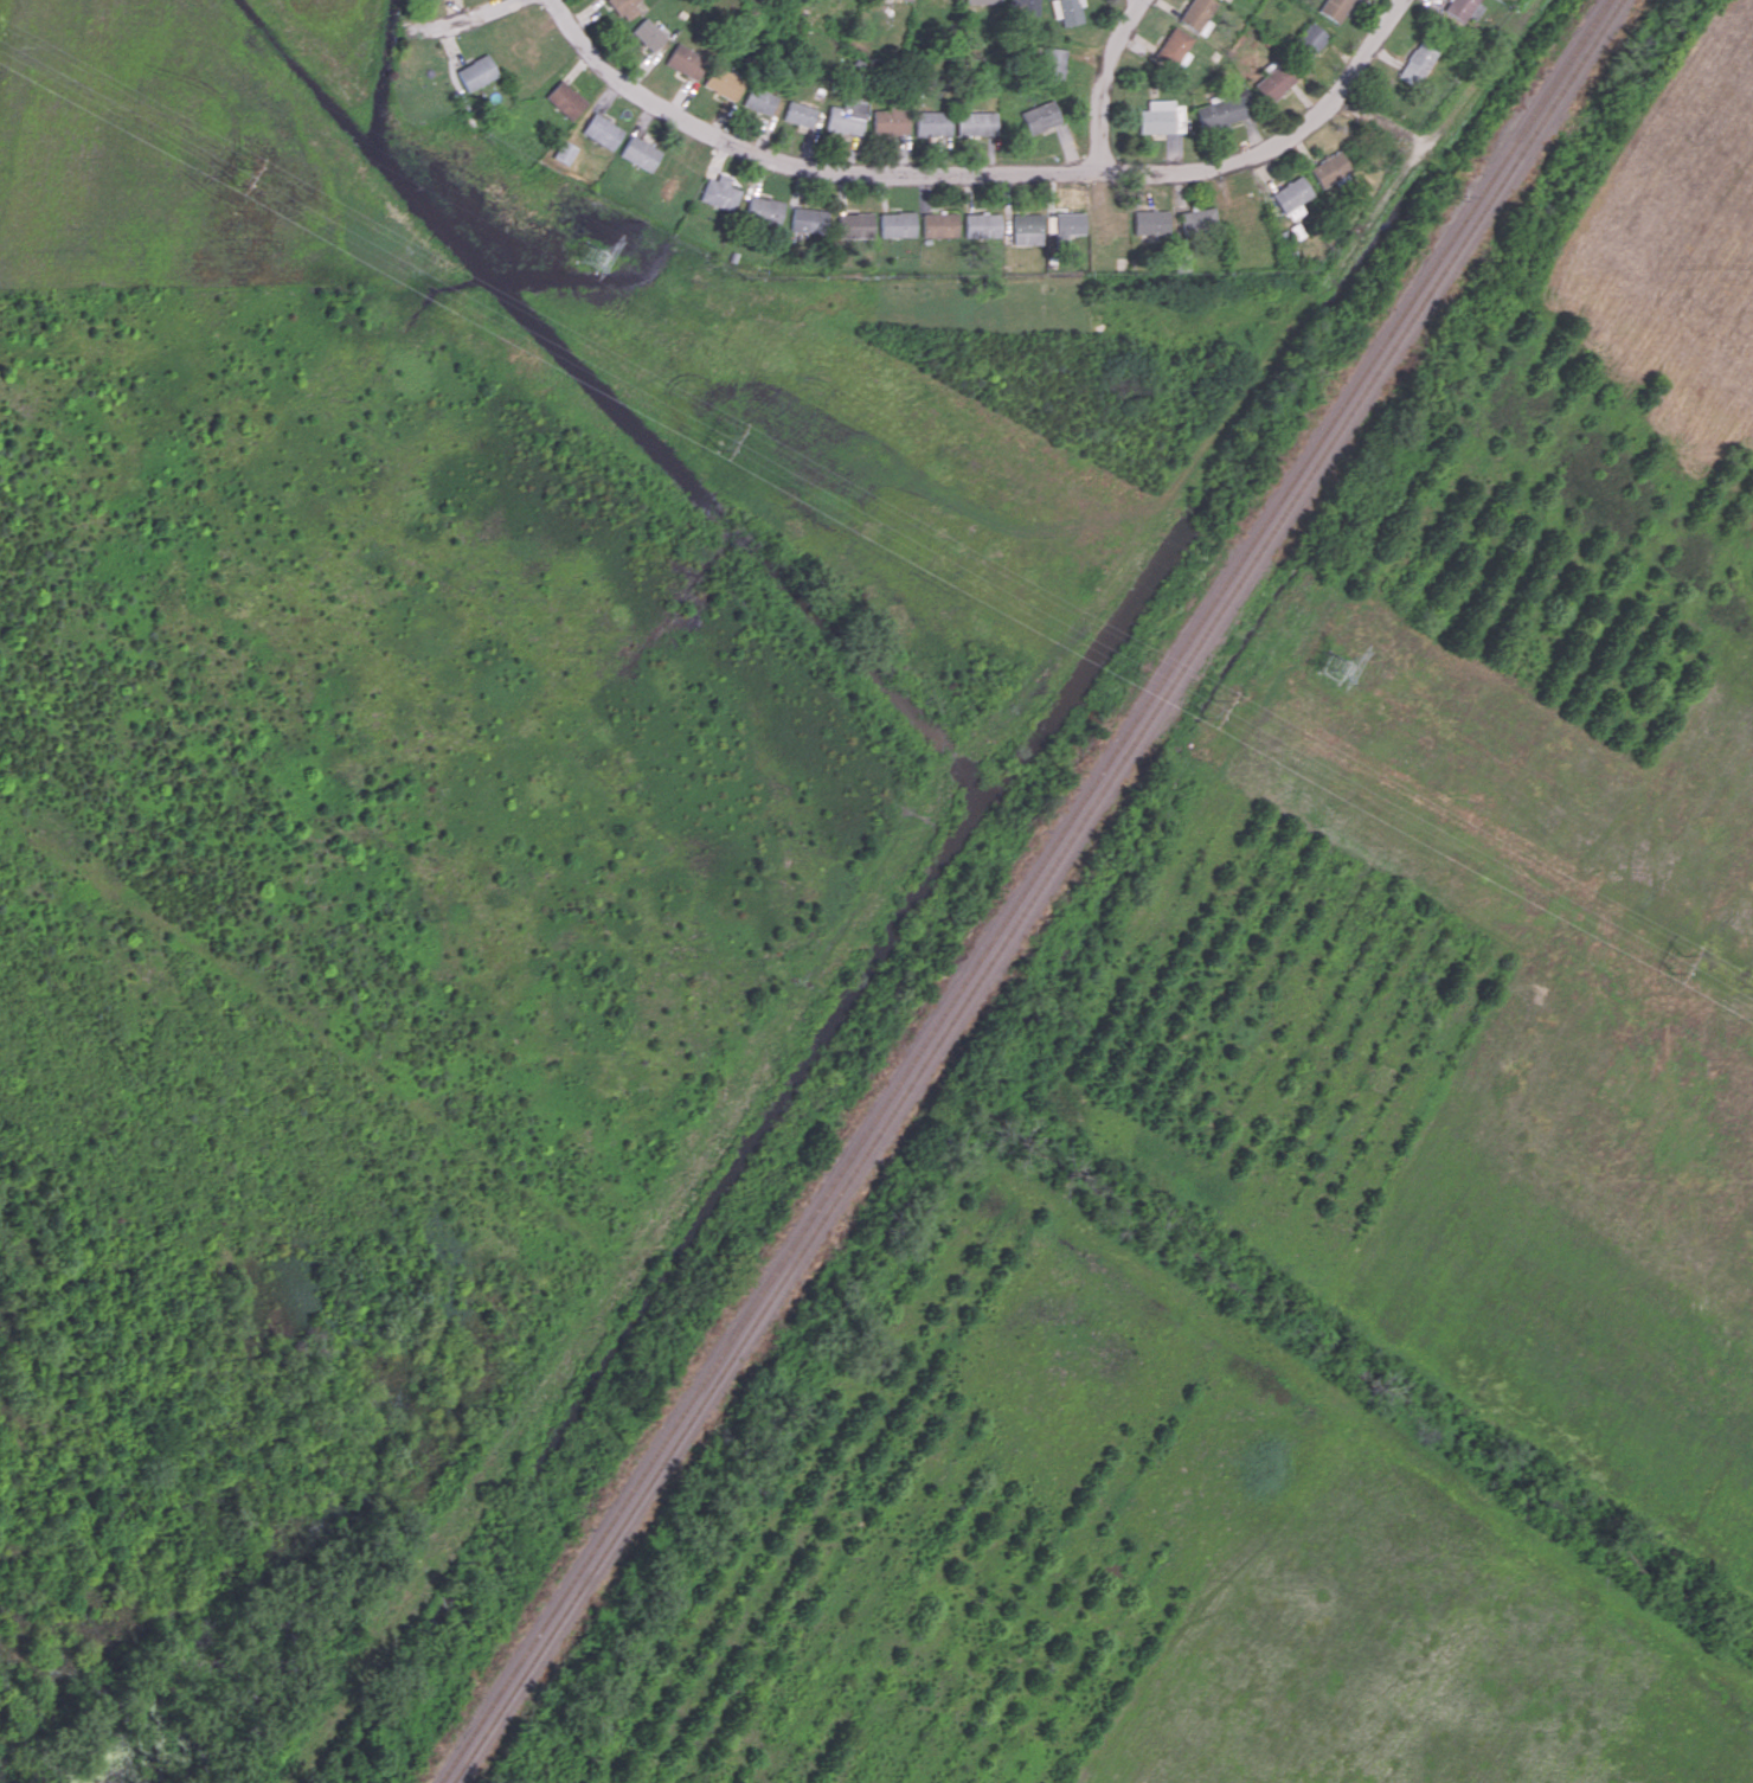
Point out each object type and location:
road: (474, 19)
crop: (334, 38)
road: (1367, 53)
road: (1109, 82)
road: (1380, 127)
crop: (180, 161)
power tower: (237, 172)
road: (920, 173)
power tower: (591, 254)
power tower: (724, 438)
power tower: (1336, 666)
power tower: (1209, 706)
railway: (1022, 891)
railway: (1035, 891)
power tower: (1683, 964)

